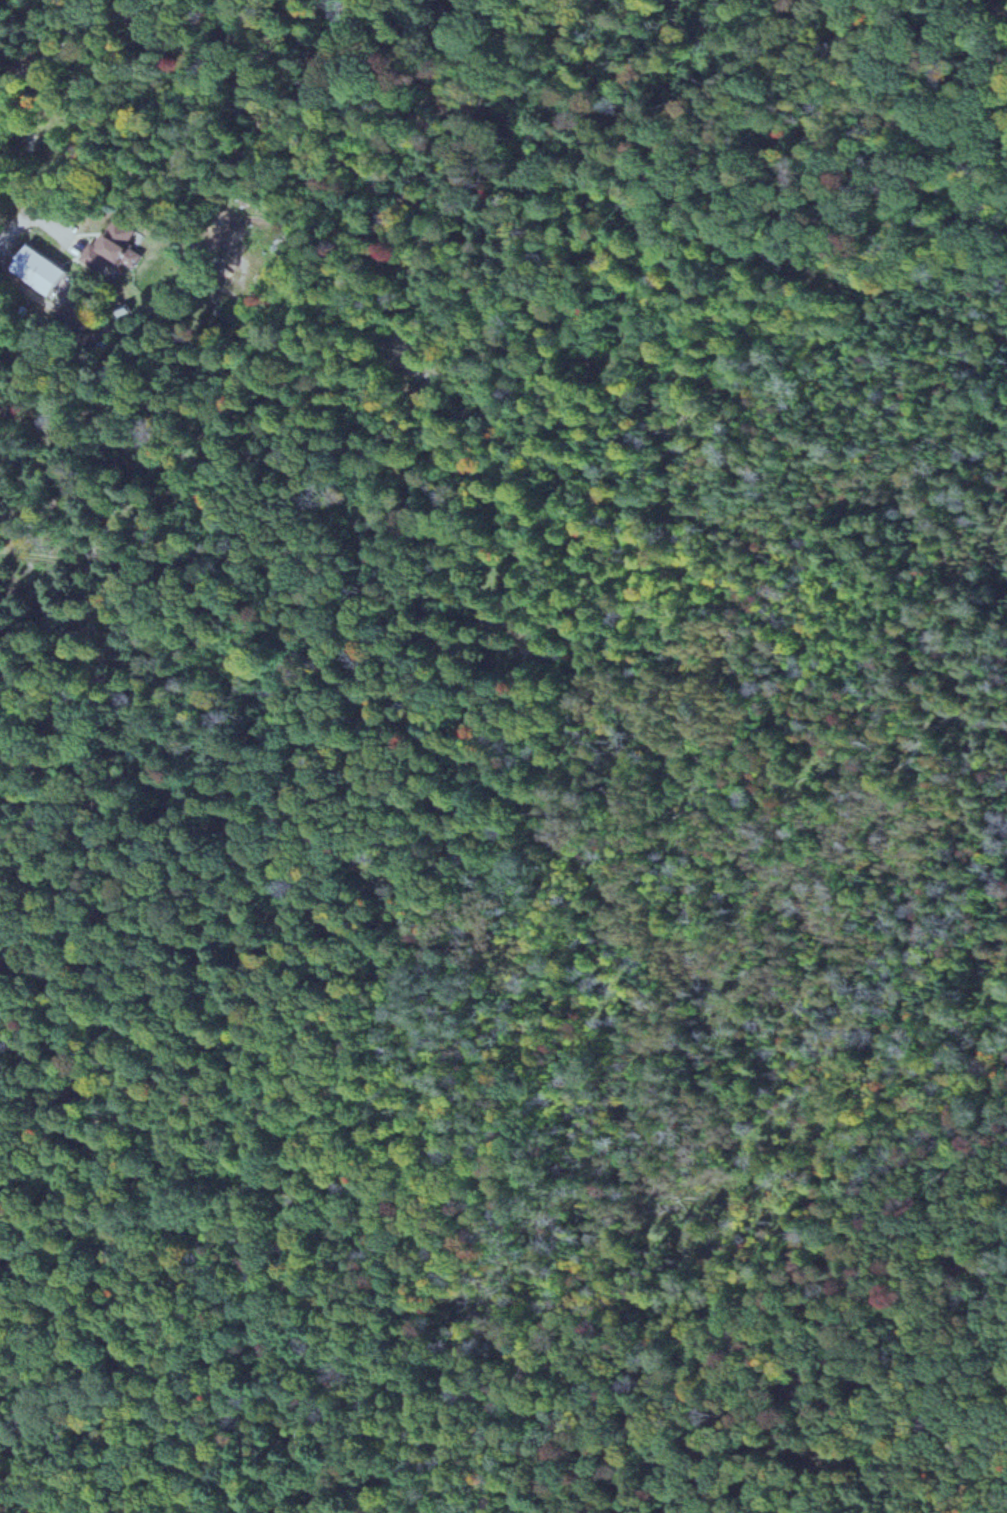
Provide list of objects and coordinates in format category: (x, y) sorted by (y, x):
road: (72, 40)
building: (113, 246)
building: (40, 269)

